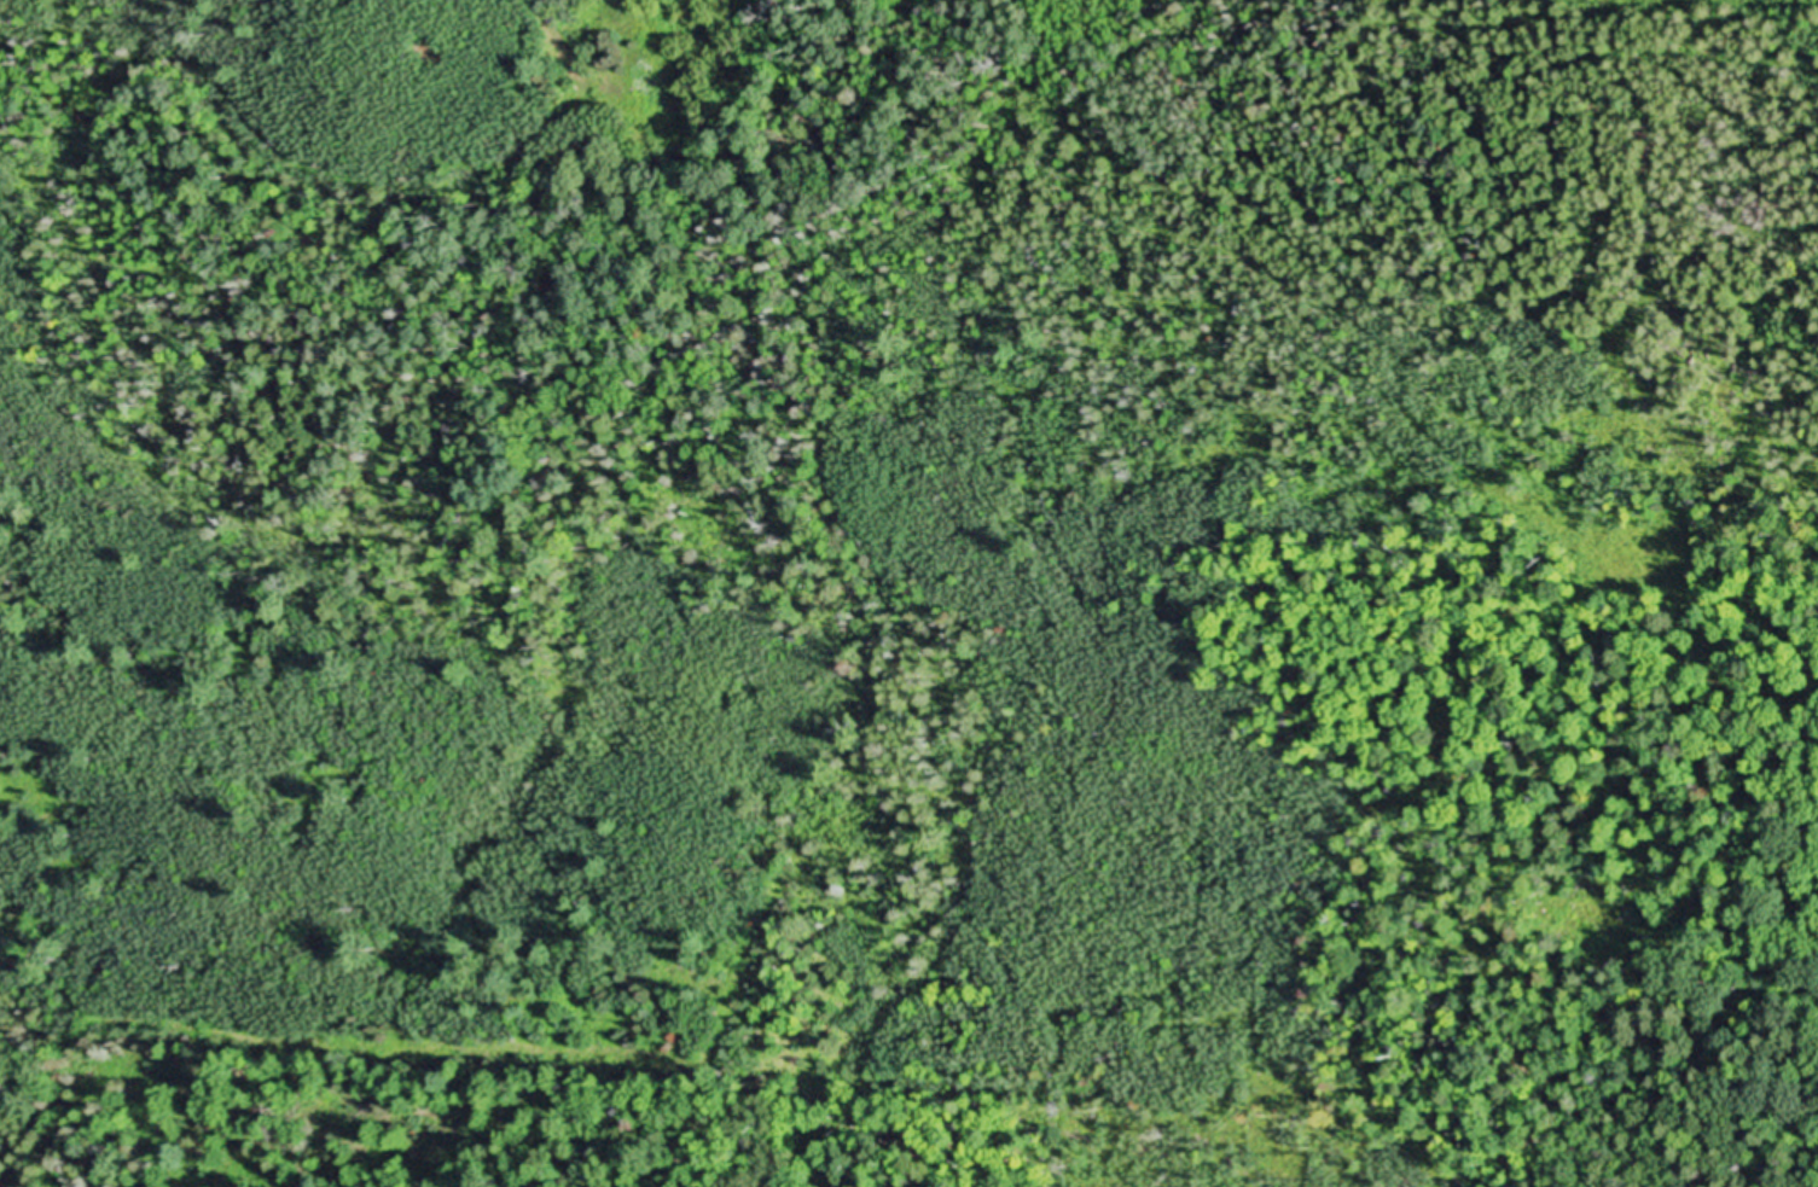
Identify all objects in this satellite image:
road: (1717, 676)

